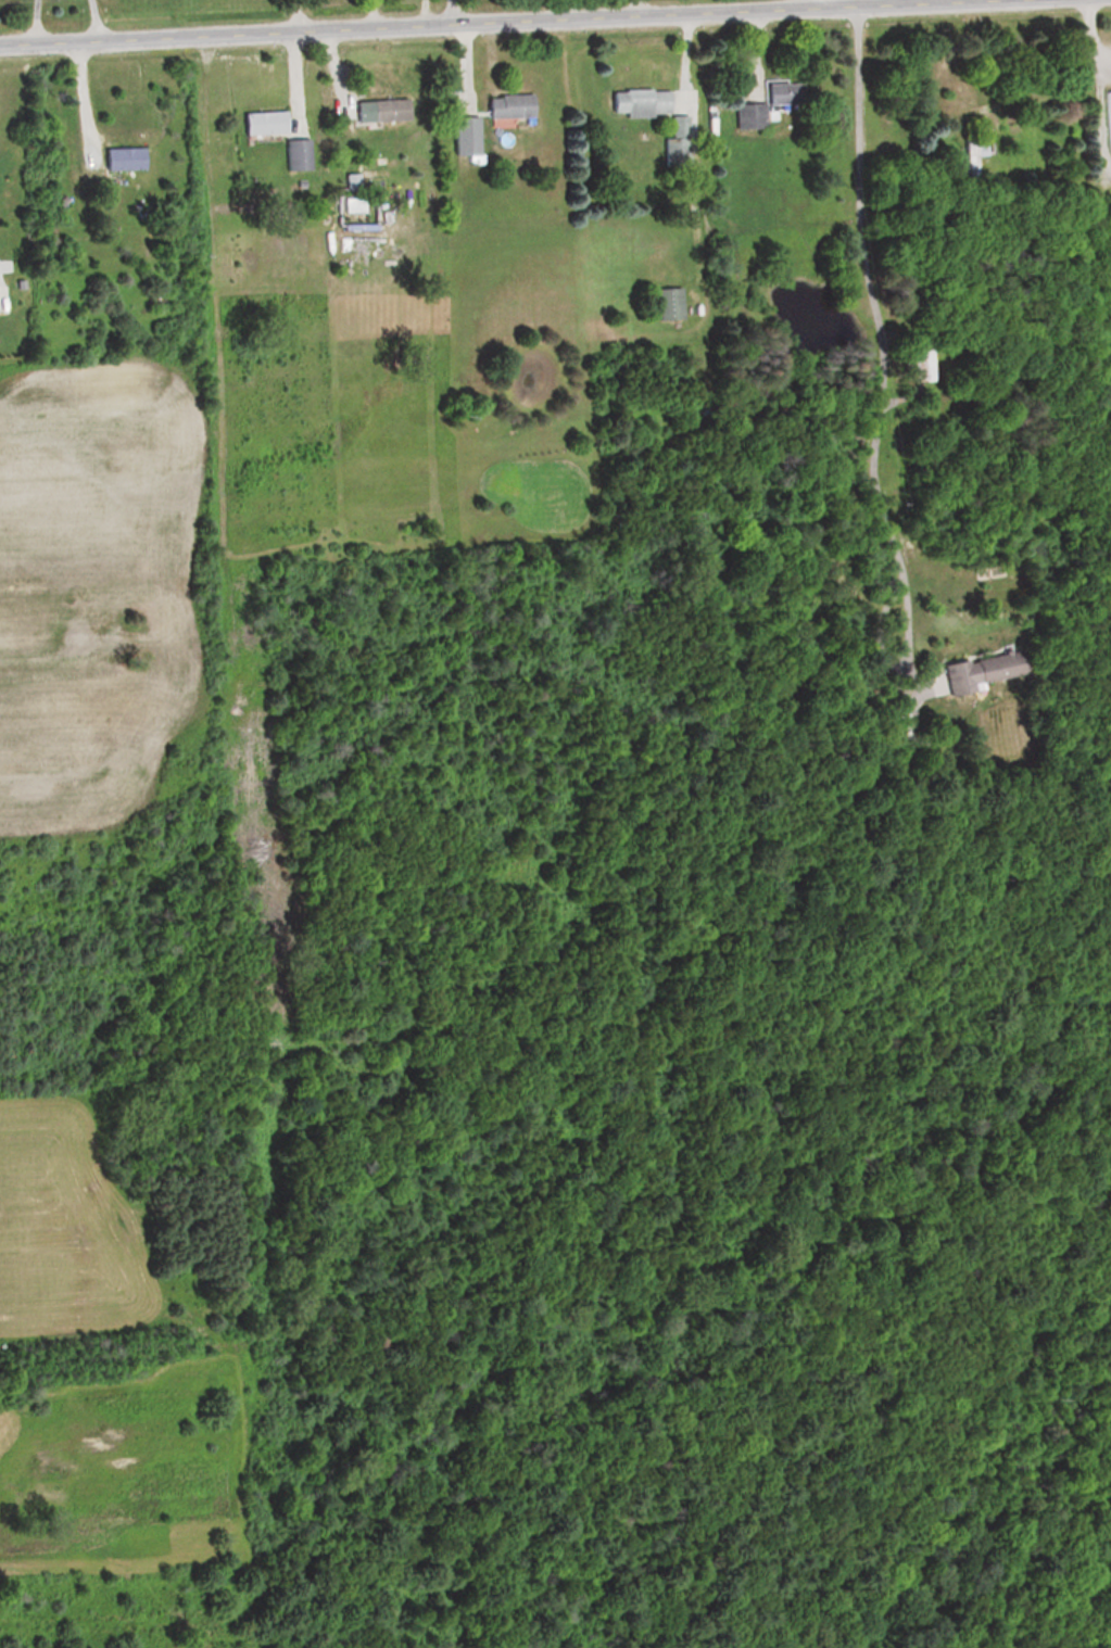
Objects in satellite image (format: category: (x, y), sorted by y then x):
road: (812, 3)
road: (829, 3)
road: (639, 8)
road: (561, 9)
road: (455, 12)
road: (96, 20)
road: (37, 22)
road: (487, 22)
road: (1087, 36)
road: (84, 102)
building: (641, 102)
building: (769, 103)
building: (509, 105)
building: (380, 111)
building: (263, 122)
building: (465, 135)
building: (674, 147)
building: (295, 154)
building: (973, 157)
building: (123, 159)
building: (671, 304)
road: (879, 327)
building: (923, 366)
building: (977, 671)

